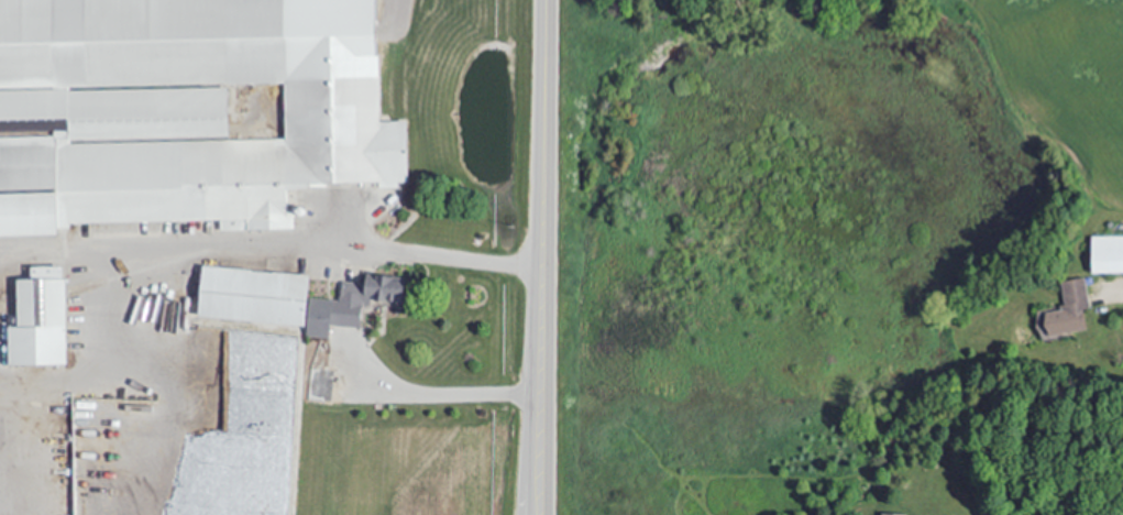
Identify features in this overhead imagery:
road: (249, 46)
building: (180, 113)
road: (274, 241)
building: (1109, 255)
road: (547, 257)
road: (1122, 289)
building: (295, 299)
building: (1071, 310)
building: (44, 325)
road: (455, 393)
building: (890, 514)

